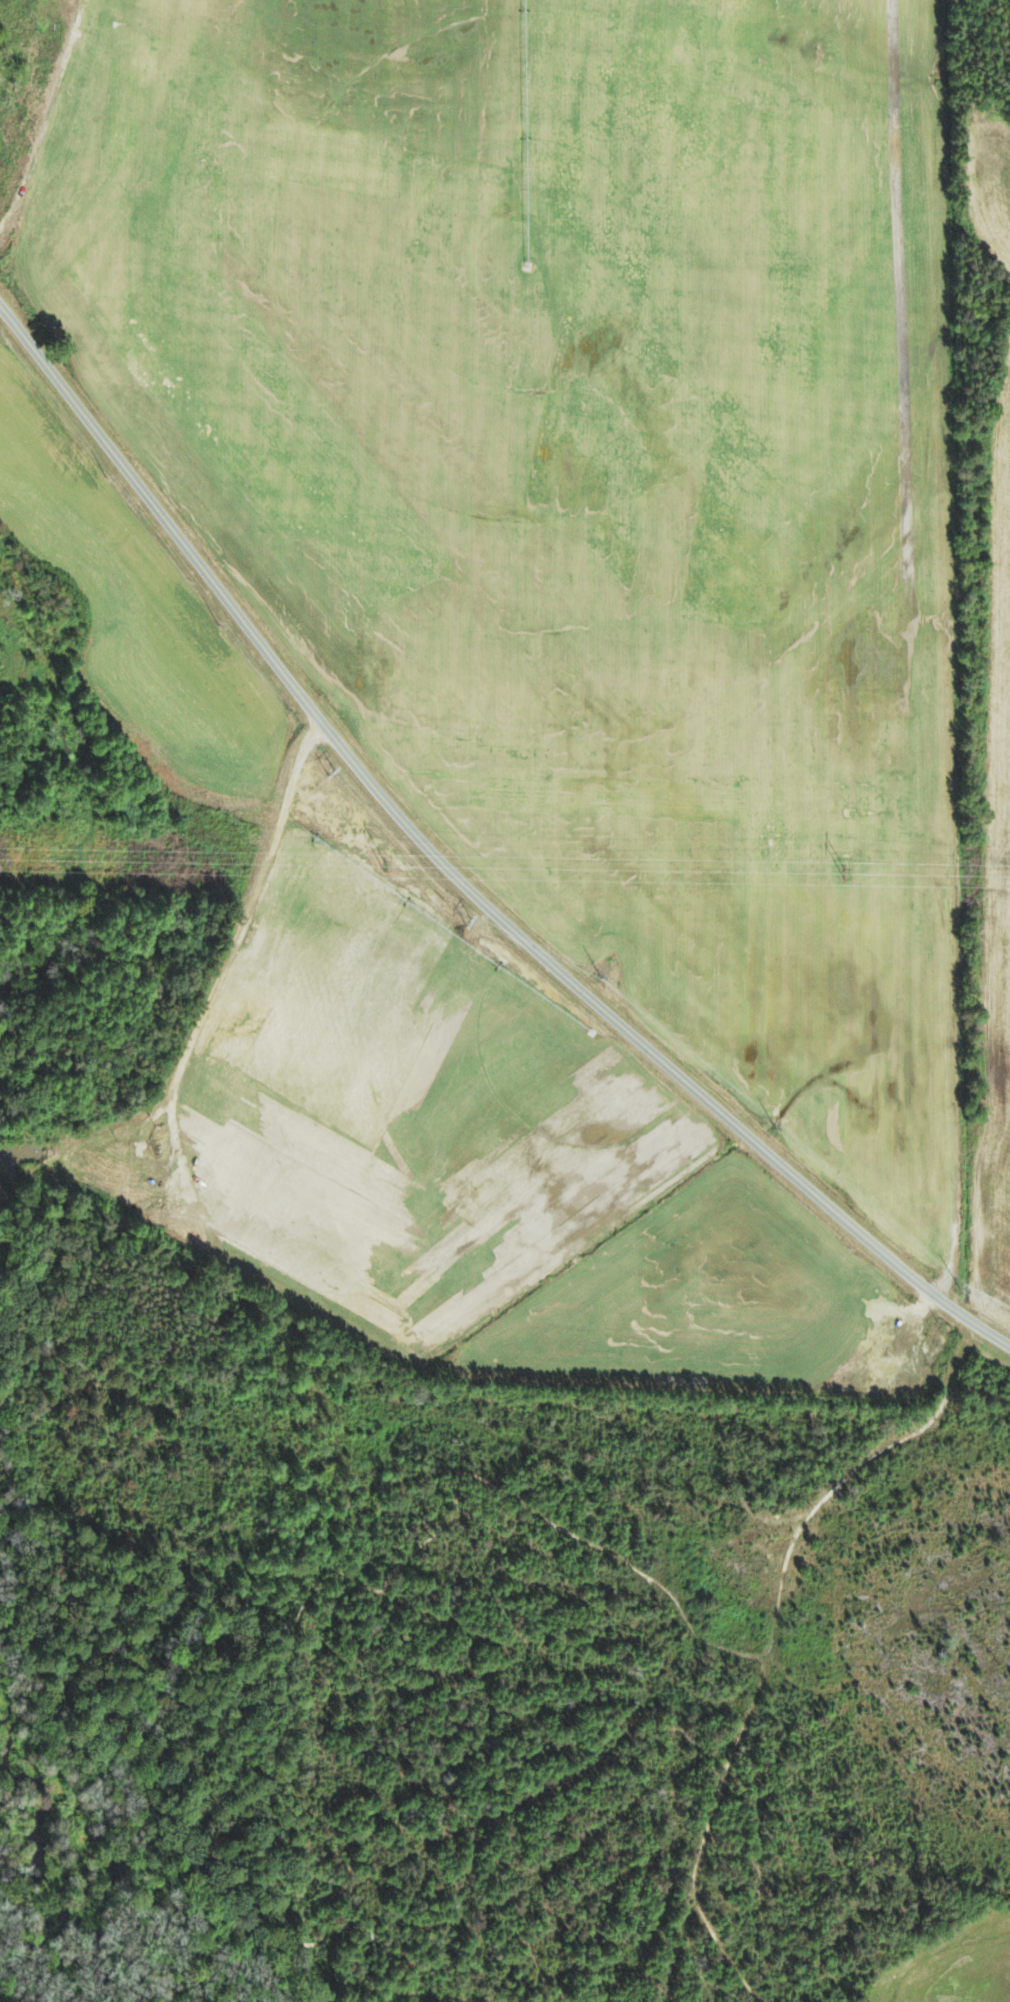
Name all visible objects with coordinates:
road: (916, 663)
power tower: (386, 863)
power tower: (841, 872)
road: (454, 875)

